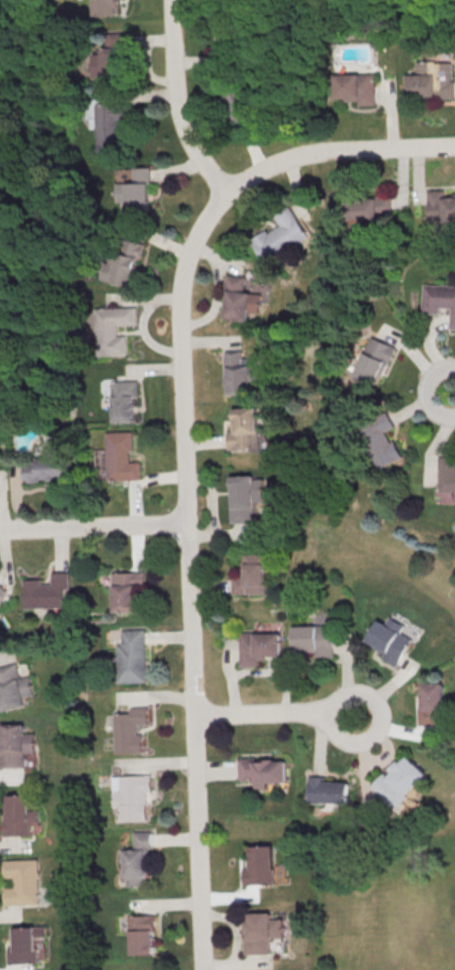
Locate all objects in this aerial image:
building: (111, 7)
building: (233, 28)
building: (112, 63)
building: (431, 81)
building: (357, 88)
building: (237, 99)
road: (179, 103)
building: (110, 123)
building: (141, 189)
building: (441, 206)
building: (369, 208)
road: (20, 219)
building: (283, 234)
building: (127, 262)
building: (238, 299)
building: (439, 300)
building: (113, 329)
building: (376, 360)
building: (238, 374)
road: (427, 392)
building: (125, 401)
building: (245, 428)
building: (381, 439)
road: (183, 456)
building: (121, 457)
building: (48, 467)
building: (447, 474)
building: (246, 497)
road: (93, 527)
building: (252, 575)
building: (2, 591)
building: (124, 591)
building: (46, 592)
building: (390, 640)
building: (314, 641)
building: (259, 647)
building: (130, 657)
building: (9, 689)
building: (432, 703)
road: (276, 714)
building: (131, 729)
building: (14, 746)
building: (264, 771)
building: (401, 780)
building: (330, 791)
building: (131, 797)
building: (16, 817)
building: (136, 859)
building: (261, 865)
building: (21, 883)
building: (263, 932)
building: (143, 934)
building: (23, 945)

